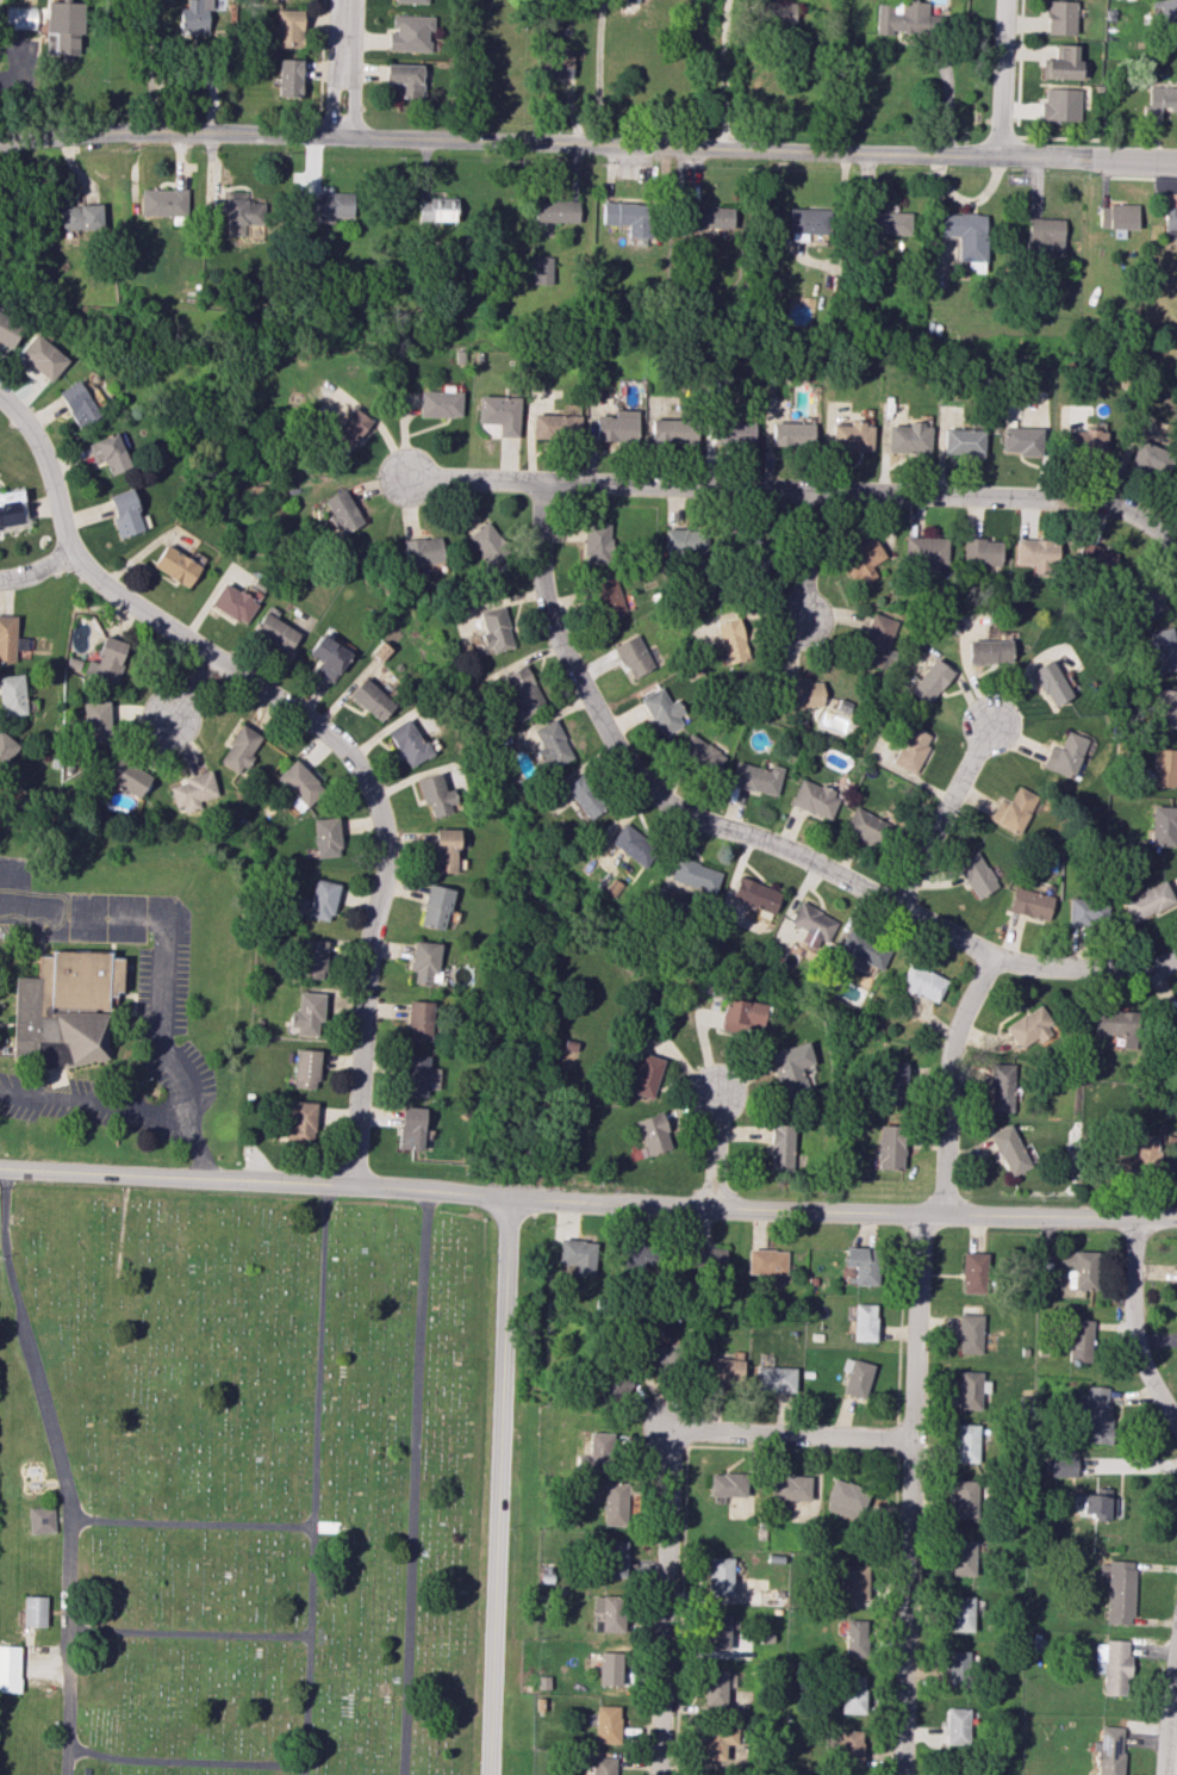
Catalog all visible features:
building: (628, 0)
building: (411, 1)
building: (1167, 12)
building: (778, 13)
building: (20, 17)
building: (194, 17)
building: (901, 17)
building: (1059, 17)
building: (62, 26)
building: (287, 27)
building: (410, 32)
building: (1061, 62)
building: (556, 63)
road: (341, 68)
road: (598, 72)
road: (723, 73)
building: (288, 77)
road: (1003, 77)
building: (405, 79)
building: (1160, 101)
building: (1060, 104)
road: (587, 143)
road: (1144, 176)
building: (162, 203)
building: (329, 206)
building: (436, 209)
building: (555, 211)
building: (243, 212)
building: (81, 216)
building: (709, 216)
building: (1169, 216)
building: (627, 217)
building: (1117, 217)
building: (885, 223)
building: (805, 224)
building: (965, 234)
building: (1042, 235)
building: (541, 269)
building: (7, 331)
building: (41, 356)
building: (76, 403)
building: (440, 403)
building: (498, 412)
building: (556, 422)
building: (616, 426)
building: (672, 430)
building: (347, 432)
building: (735, 432)
building: (792, 434)
building: (851, 436)
building: (908, 437)
building: (1021, 440)
building: (963, 441)
building: (1086, 442)
building: (107, 453)
building: (1148, 458)
road: (48, 467)
road: (474, 479)
road: (846, 490)
building: (10, 507)
building: (341, 511)
building: (124, 513)
road: (1163, 535)
building: (684, 541)
building: (596, 542)
building: (487, 545)
building: (926, 550)
building: (422, 551)
building: (756, 552)
building: (982, 552)
building: (1038, 554)
road: (804, 557)
building: (861, 558)
building: (1096, 558)
building: (175, 565)
road: (37, 570)
building: (608, 598)
building: (1146, 601)
building: (232, 602)
building: (493, 627)
building: (274, 632)
building: (11, 640)
building: (730, 640)
building: (877, 641)
building: (1163, 650)
building: (989, 651)
building: (633, 656)
building: (328, 657)
building: (106, 660)
building: (929, 681)
building: (1051, 682)
road: (189, 688)
building: (523, 693)
building: (803, 693)
building: (12, 695)
building: (370, 699)
building: (1166, 708)
building: (662, 710)
building: (95, 722)
building: (407, 743)
building: (550, 745)
building: (6, 749)
building: (239, 749)
building: (910, 749)
building: (699, 752)
building: (1065, 755)
building: (1164, 768)
building: (127, 777)
building: (755, 777)
building: (299, 784)
building: (193, 790)
building: (435, 794)
road: (376, 795)
building: (583, 796)
building: (1013, 809)
road: (942, 814)
building: (864, 825)
building: (1164, 825)
building: (326, 837)
road: (754, 837)
building: (633, 845)
building: (443, 850)
building: (695, 875)
building: (976, 875)
road: (21, 886)
building: (754, 894)
building: (322, 900)
building: (1147, 902)
building: (1030, 904)
building: (435, 906)
building: (1086, 910)
building: (807, 925)
road: (167, 941)
building: (862, 949)
building: (313, 958)
building: (423, 961)
building: (922, 982)
parking lot: (162, 989)
building: (64, 1008)
building: (306, 1013)
building: (742, 1013)
building: (418, 1020)
building: (1172, 1020)
building: (1028, 1026)
building: (1116, 1026)
building: (305, 1068)
building: (791, 1068)
building: (413, 1075)
building: (644, 1075)
road: (945, 1078)
building: (892, 1080)
building: (1001, 1087)
parking lot: (88, 1105)
road: (95, 1106)
building: (300, 1121)
building: (410, 1128)
building: (652, 1134)
building: (780, 1147)
building: (889, 1147)
road: (198, 1148)
road: (716, 1150)
building: (1010, 1150)
building: (1133, 1155)
road: (587, 1203)
road: (122, 1225)
building: (577, 1255)
building: (635, 1255)
building: (709, 1256)
building: (766, 1261)
building: (861, 1264)
building: (973, 1272)
building: (1176, 1285)
building: (862, 1322)
road: (1131, 1326)
building: (969, 1333)
building: (1079, 1340)
building: (659, 1357)
building: (724, 1369)
building: (854, 1377)
building: (774, 1378)
building: (970, 1389)
building: (1094, 1415)
road: (792, 1433)
building: (964, 1442)
building: (597, 1450)
building: (1061, 1465)
road: (57, 1469)
road: (313, 1478)
park: (242, 1482)
road: (413, 1482)
building: (725, 1484)
road: (497, 1485)
building: (789, 1487)
road: (908, 1492)
building: (845, 1498)
building: (964, 1498)
building: (615, 1503)
building: (1098, 1503)
building: (41, 1520)
road: (191, 1525)
building: (961, 1557)
building: (612, 1558)
building: (718, 1575)
building: (849, 1579)
building: (1117, 1590)
road: (664, 1599)
building: (33, 1610)
building: (609, 1612)
building: (960, 1613)
building: (716, 1632)
road: (188, 1633)
building: (853, 1637)
building: (1110, 1665)
building: (10, 1668)
building: (609, 1668)
building: (955, 1668)
building: (714, 1688)
building: (849, 1694)
road: (1166, 1703)
building: (606, 1724)
building: (955, 1725)
building: (716, 1740)
building: (848, 1748)
building: (1108, 1750)
road: (182, 1762)
building: (603, 1765)

